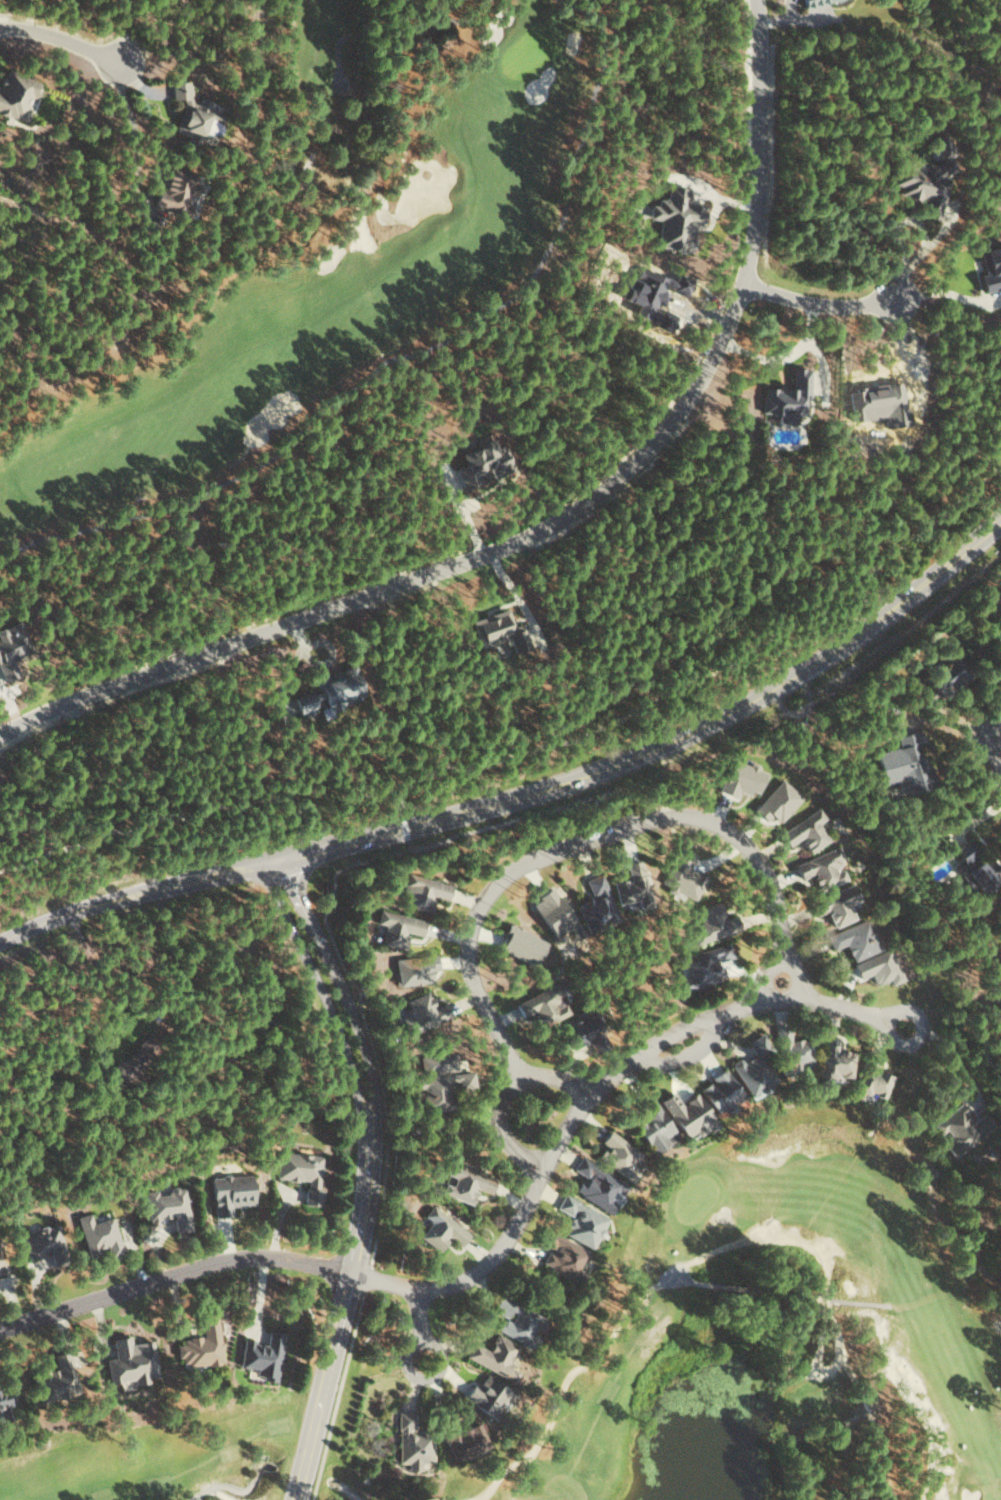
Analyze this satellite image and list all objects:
building: (812, 2)
road: (62, 35)
building: (16, 94)
building: (194, 116)
road: (141, 125)
building: (942, 147)
building: (923, 187)
building: (175, 190)
building: (676, 219)
park: (323, 272)
road: (832, 305)
building: (788, 395)
building: (482, 464)
road: (562, 523)
building: (498, 630)
building: (10, 650)
building: (948, 674)
road: (704, 677)
building: (332, 691)
road: (1000, 763)
building: (905, 765)
building: (742, 779)
road: (529, 797)
building: (777, 802)
building: (806, 831)
road: (563, 857)
building: (822, 868)
building: (974, 868)
building: (683, 875)
building: (632, 886)
building: (423, 891)
building: (596, 905)
building: (836, 905)
building: (552, 912)
building: (713, 924)
building: (398, 928)
building: (856, 939)
building: (521, 945)
building: (704, 966)
building: (878, 967)
building: (415, 969)
building: (540, 1007)
building: (422, 1013)
building: (581, 1029)
road: (964, 1036)
building: (792, 1051)
building: (753, 1071)
building: (120, 1074)
building: (870, 1079)
building: (436, 1081)
road: (591, 1091)
building: (722, 1094)
building: (689, 1115)
building: (653, 1126)
building: (960, 1129)
building: (620, 1155)
building: (302, 1172)
road: (374, 1177)
building: (466, 1181)
building: (597, 1185)
building: (230, 1192)
building: (170, 1206)
building: (582, 1220)
building: (441, 1228)
building: (99, 1233)
building: (42, 1240)
building: (563, 1255)
building: (1, 1264)
road: (174, 1279)
road: (691, 1282)
road: (427, 1315)
building: (518, 1318)
park: (788, 1333)
road: (427, 1341)
building: (201, 1345)
building: (263, 1354)
building: (495, 1355)
building: (131, 1360)
building: (54, 1378)
building: (488, 1394)
building: (7, 1403)
building: (466, 1440)
building: (413, 1442)
park: (208, 1456)
road: (235, 1487)
road: (346, 1489)

